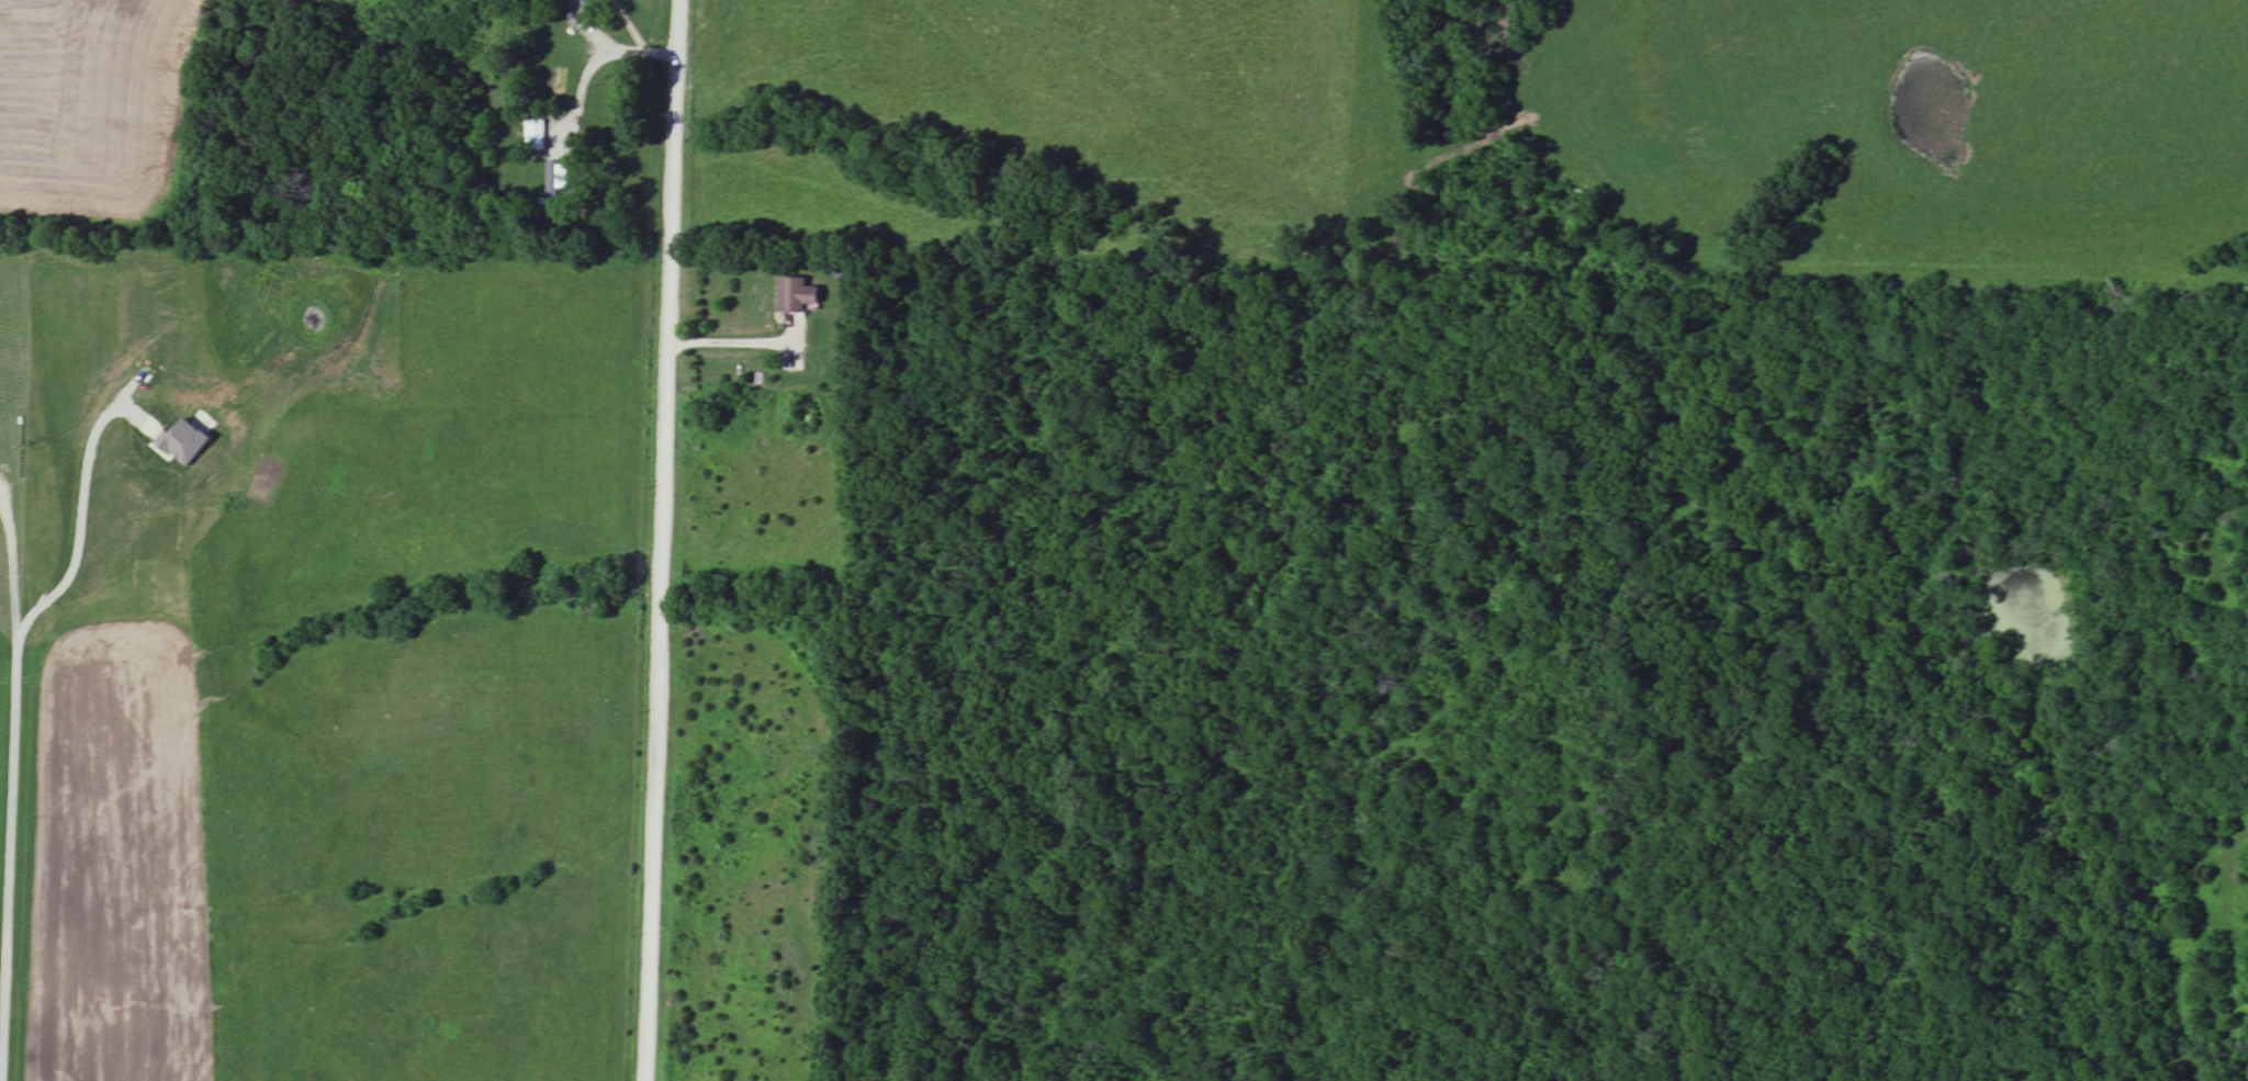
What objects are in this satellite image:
road: (537, 43)
road: (643, 54)
building: (535, 135)
building: (552, 190)
building: (798, 296)
road: (738, 344)
road: (79, 516)
road: (657, 540)
crop: (0, 671)
road: (21, 782)

